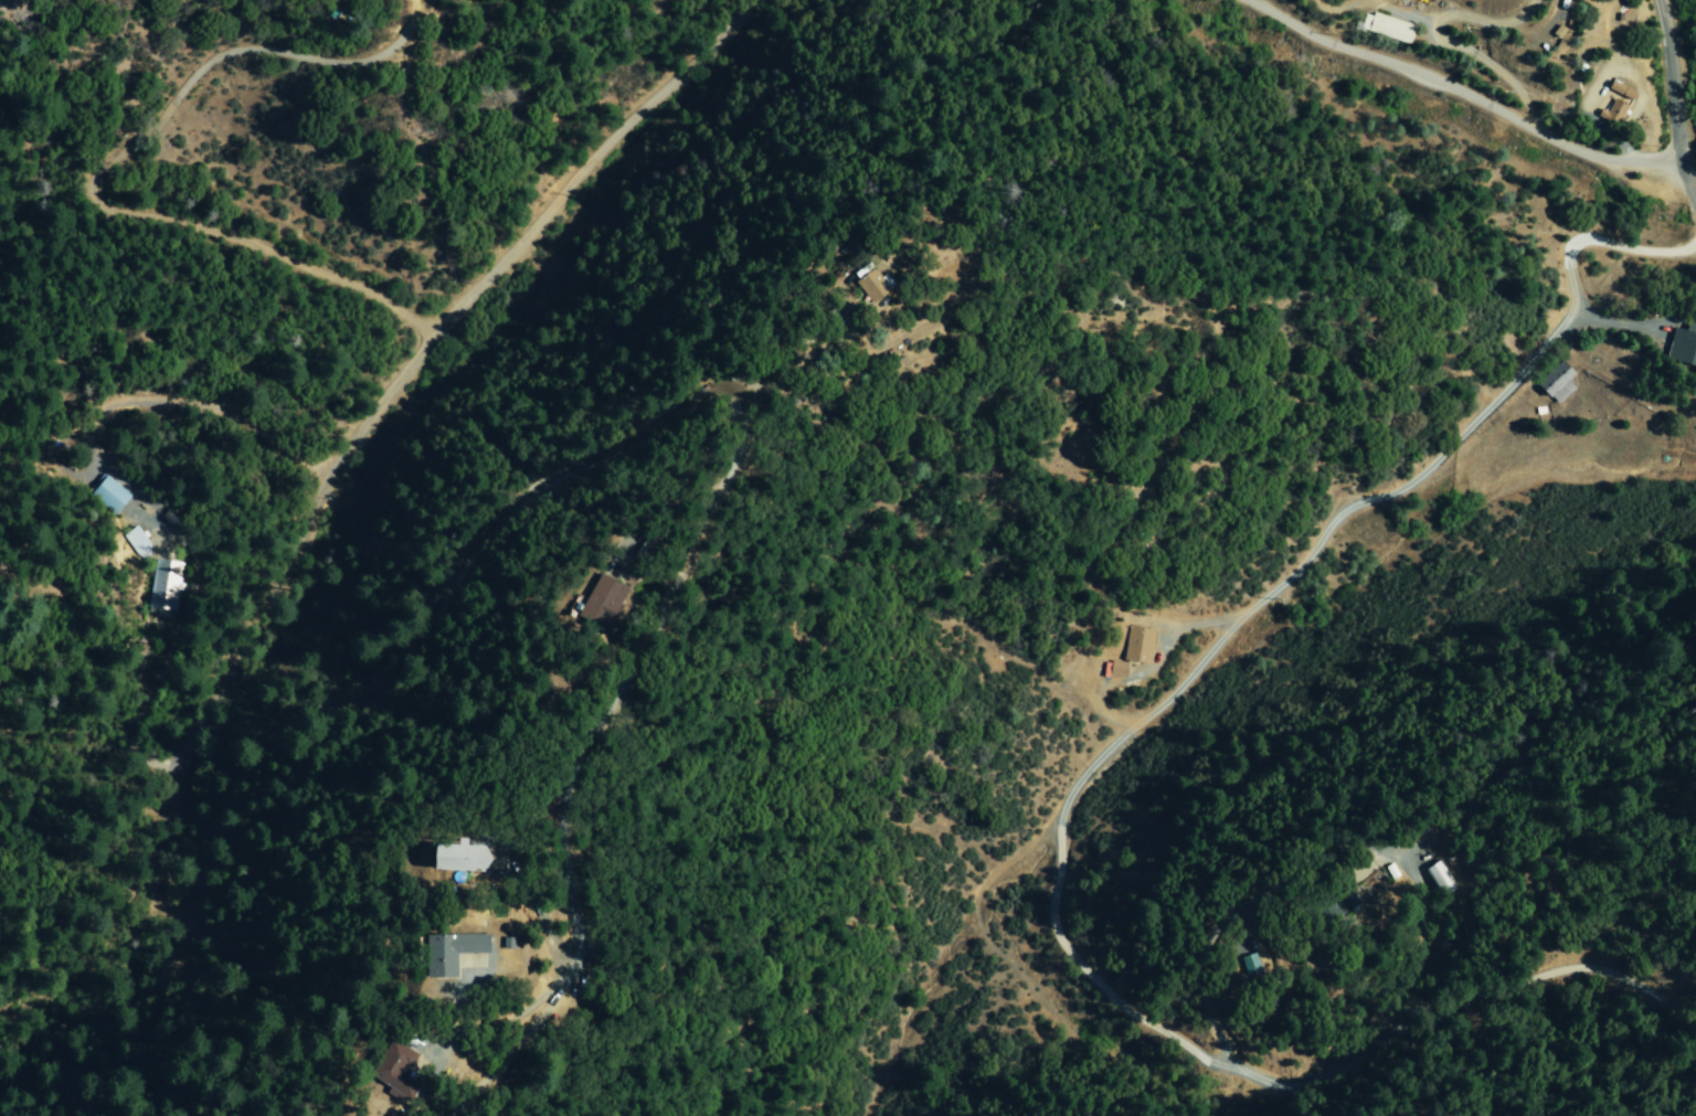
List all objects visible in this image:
building: (358, 0)
building: (1390, 29)
road: (1450, 43)
road: (1601, 78)
road: (1460, 94)
building: (1616, 103)
road: (1673, 106)
road: (97, 170)
road: (1649, 254)
building: (861, 286)
road: (1618, 325)
building: (1682, 347)
road: (794, 351)
building: (1557, 383)
road: (675, 480)
road: (1392, 492)
building: (109, 495)
road: (142, 501)
building: (165, 585)
building: (595, 603)
building: (1137, 646)
road: (1141, 673)
road: (271, 744)
building: (456, 860)
building: (1440, 874)
road: (534, 911)
road: (1223, 917)
building: (444, 955)
building: (1250, 965)
road: (468, 984)
road: (509, 1053)
road: (1230, 1066)
building: (392, 1073)

